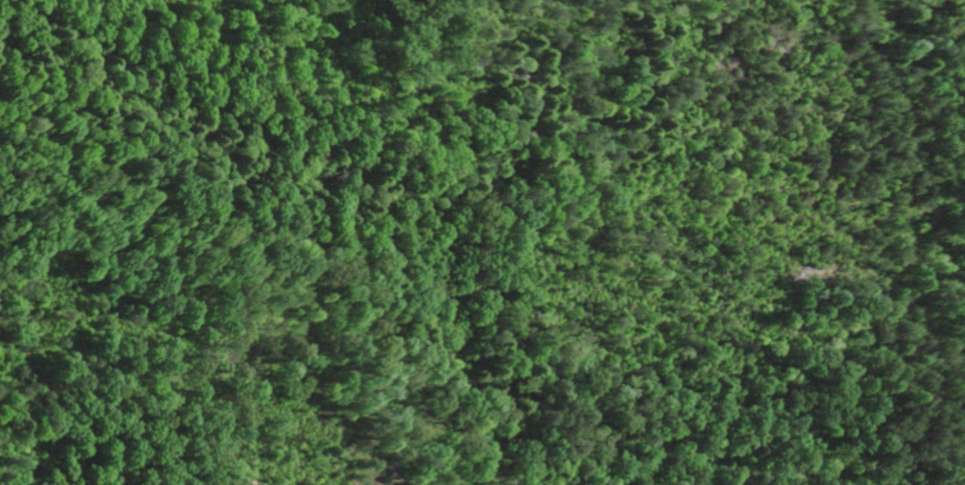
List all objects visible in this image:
road: (889, 260)

